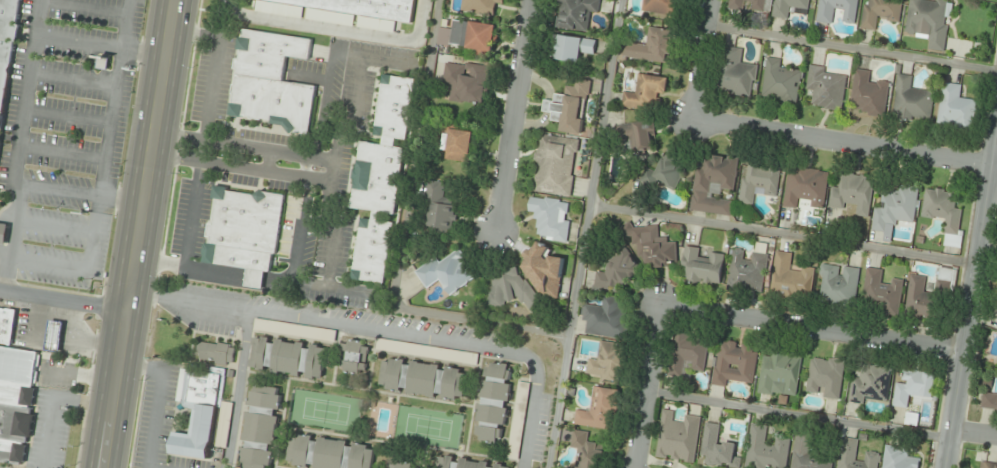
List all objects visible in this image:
building: (735, 4)
building: (757, 4)
building: (481, 6)
building: (659, 6)
building: (788, 6)
road: (83, 7)
building: (348, 10)
building: (836, 10)
building: (880, 12)
building: (574, 13)
building: (929, 21)
building: (467, 35)
road: (102, 45)
building: (7, 46)
building: (649, 46)
building: (570, 48)
road: (853, 49)
road: (705, 60)
building: (104, 62)
building: (735, 73)
road: (72, 80)
building: (269, 82)
building: (466, 82)
building: (779, 82)
building: (824, 88)
building: (643, 92)
building: (867, 95)
building: (911, 100)
building: (569, 107)
building: (955, 108)
road: (513, 115)
road: (67, 116)
building: (637, 136)
building: (456, 142)
road: (846, 142)
road: (17, 146)
road: (61, 152)
building: (554, 165)
building: (670, 169)
road: (103, 171)
building: (379, 179)
building: (758, 179)
building: (713, 184)
building: (805, 188)
building: (852, 193)
road: (82, 194)
building: (438, 208)
building: (896, 208)
building: (943, 213)
building: (550, 217)
road: (55, 227)
building: (244, 231)
building: (3, 233)
road: (141, 233)
road: (578, 233)
road: (780, 234)
building: (652, 245)
road: (988, 248)
building: (703, 266)
building: (543, 268)
building: (617, 271)
building: (446, 272)
building: (748, 272)
building: (948, 275)
building: (790, 278)
building: (838, 285)
building: (508, 286)
building: (881, 292)
road: (64, 299)
building: (921, 299)
road: (971, 300)
building: (607, 319)
building: (6, 324)
building: (262, 325)
road: (812, 327)
road: (386, 329)
building: (53, 335)
gas station: (53, 335)
building: (215, 352)
building: (688, 354)
building: (446, 355)
building: (287, 357)
building: (353, 357)
building: (734, 362)
building: (608, 363)
building: (781, 371)
building: (825, 377)
building: (423, 379)
building: (871, 384)
road: (647, 385)
building: (914, 387)
road: (238, 389)
road: (159, 397)
building: (17, 402)
building: (493, 402)
building: (989, 402)
building: (600, 410)
building: (203, 414)
road: (798, 414)
building: (519, 420)
building: (259, 427)
road: (973, 433)
building: (678, 438)
building: (718, 449)
building: (766, 449)
building: (587, 452)
building: (327, 453)
building: (807, 453)
building: (856, 455)
building: (899, 458)
building: (464, 463)
building: (989, 463)
building: (403, 464)

